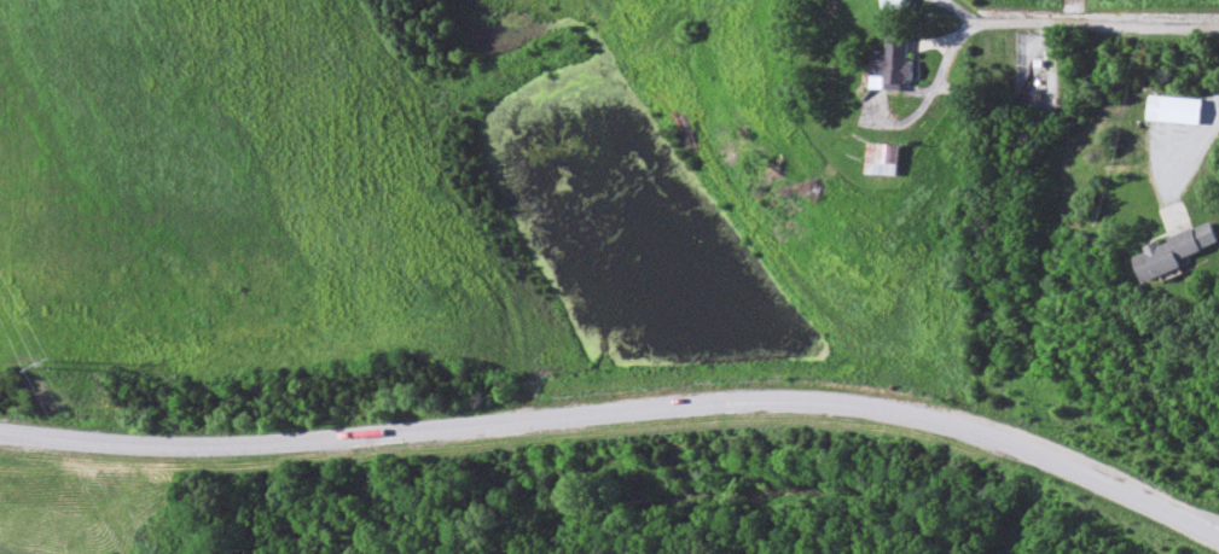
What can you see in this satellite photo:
road: (1098, 21)
road: (1196, 147)
road: (888, 408)
road: (361, 432)
road: (94, 438)

